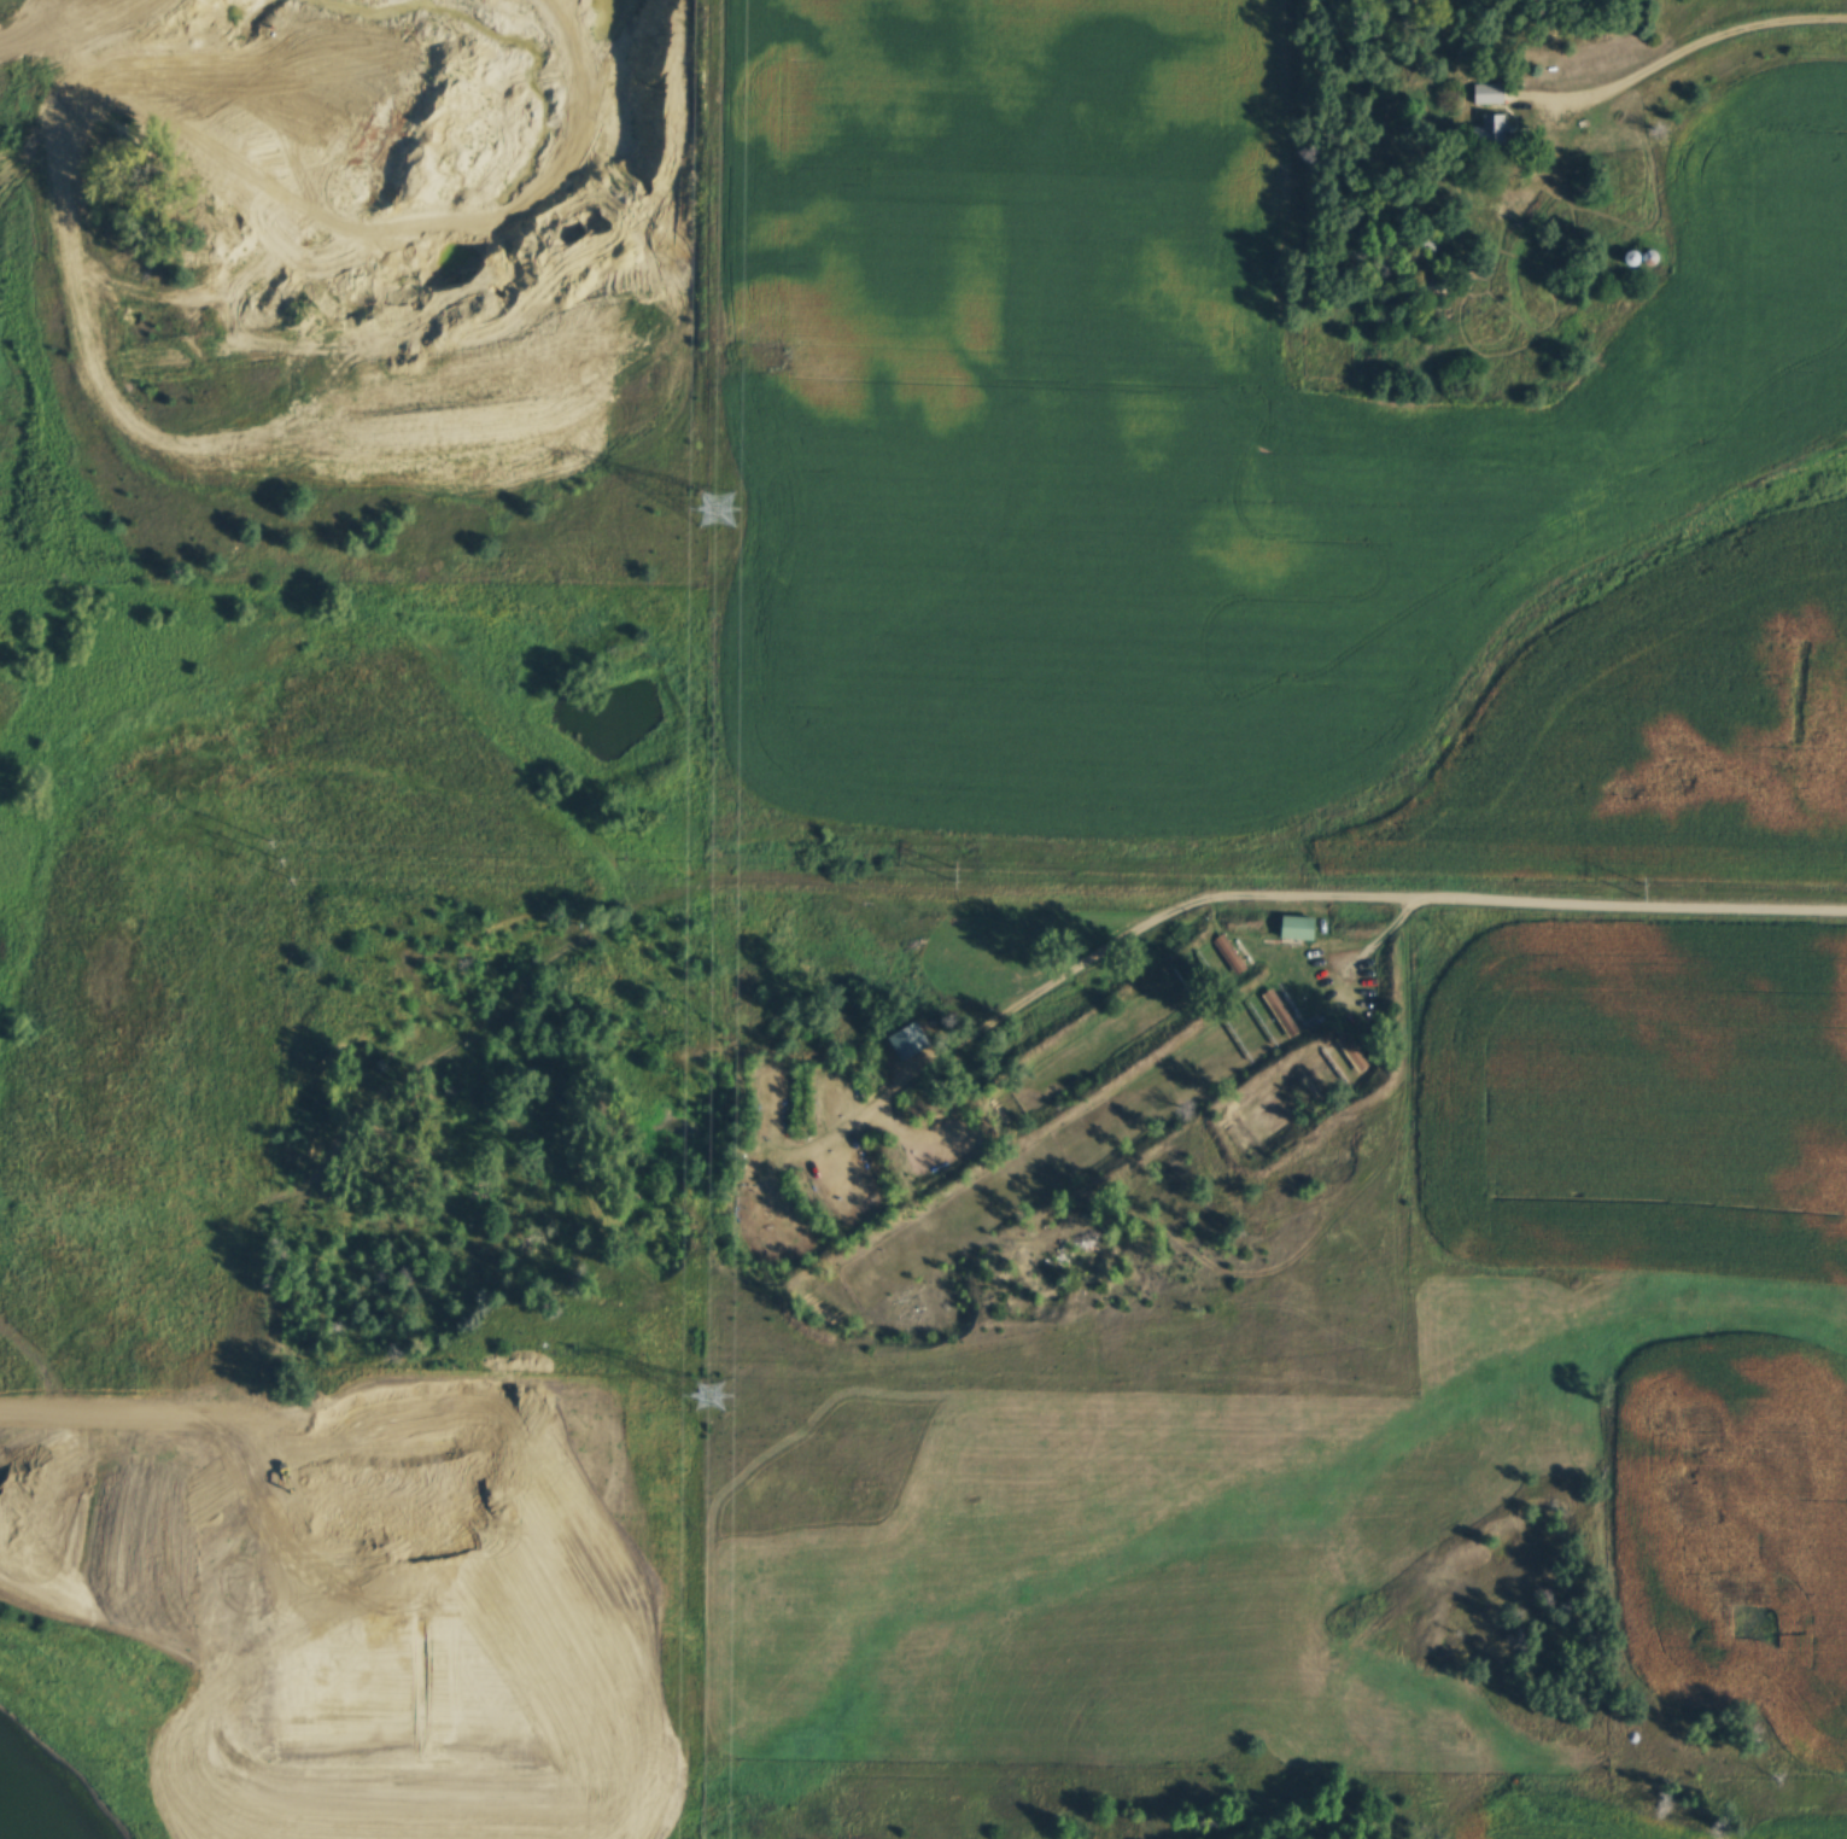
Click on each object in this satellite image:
road: (1701, 42)
building: (1487, 97)
building: (1490, 134)
building: (1409, 245)
power tower: (717, 513)
power tower: (285, 864)
power tower: (957, 876)
power tower: (1644, 891)
building: (1297, 930)
building: (755, 1166)
power tower: (713, 1402)

